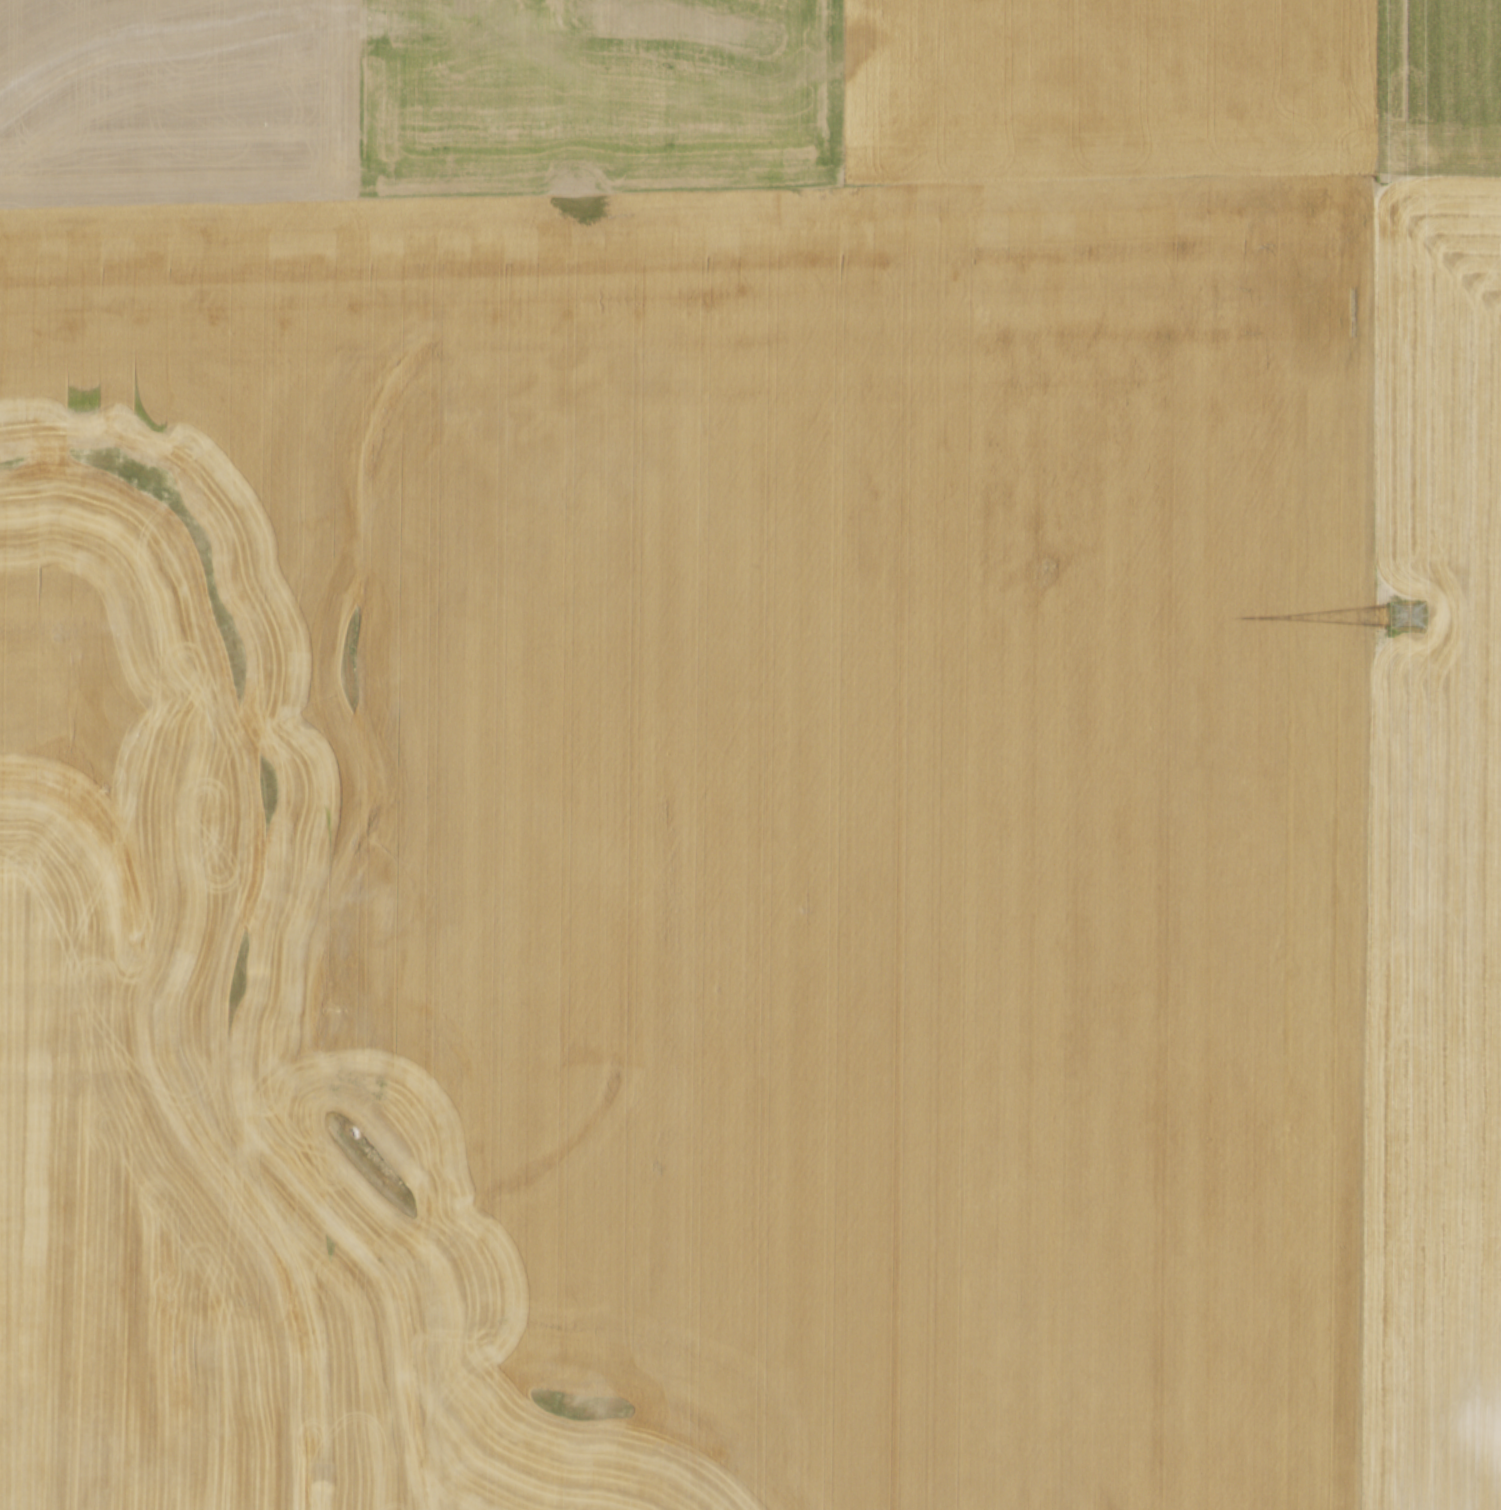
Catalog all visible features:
power tower: (1407, 614)

